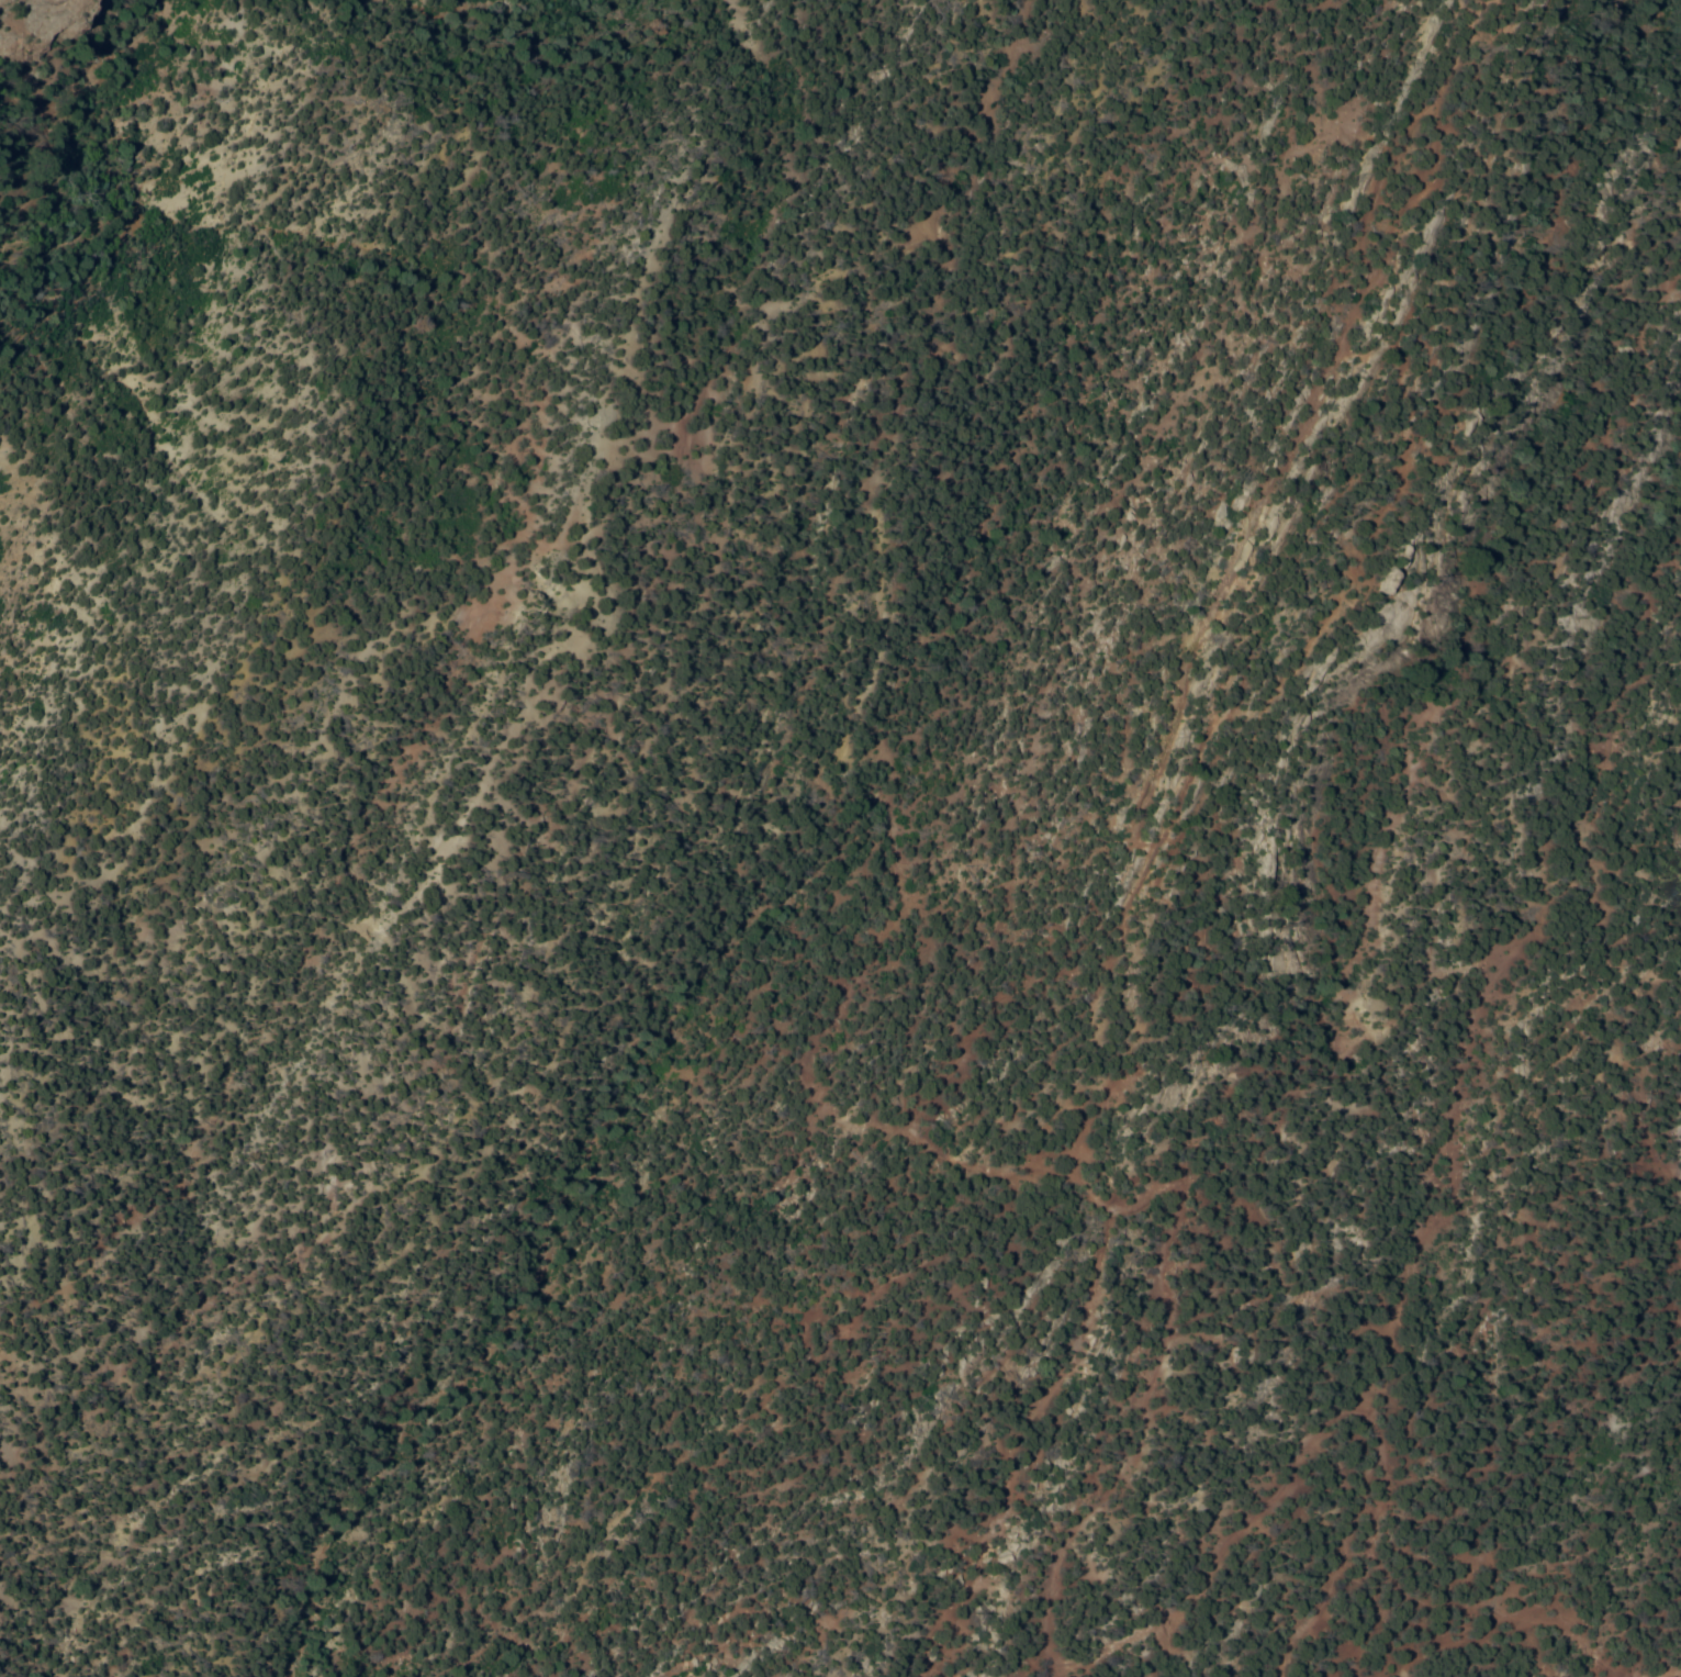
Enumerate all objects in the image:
road: (46, 99)
road: (840, 259)
road: (567, 461)
road: (836, 759)
road: (1130, 830)

